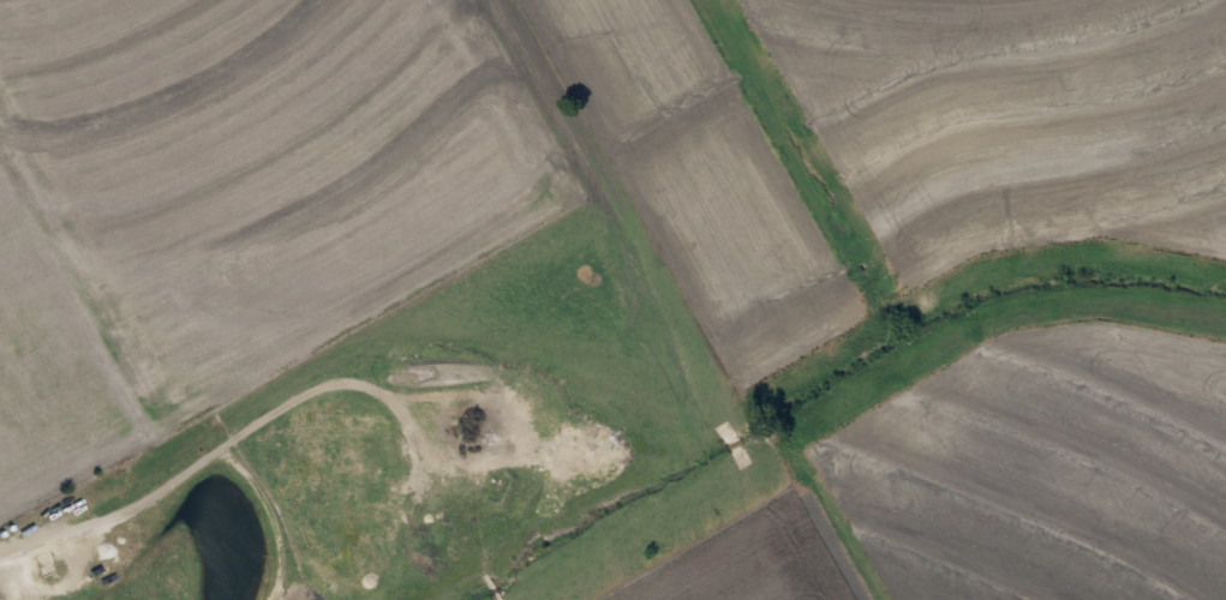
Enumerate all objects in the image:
crop: (1018, 118)
crop: (698, 179)
crop: (229, 199)
wastewater plant: (397, 452)
crop: (1052, 473)
crop: (756, 560)

